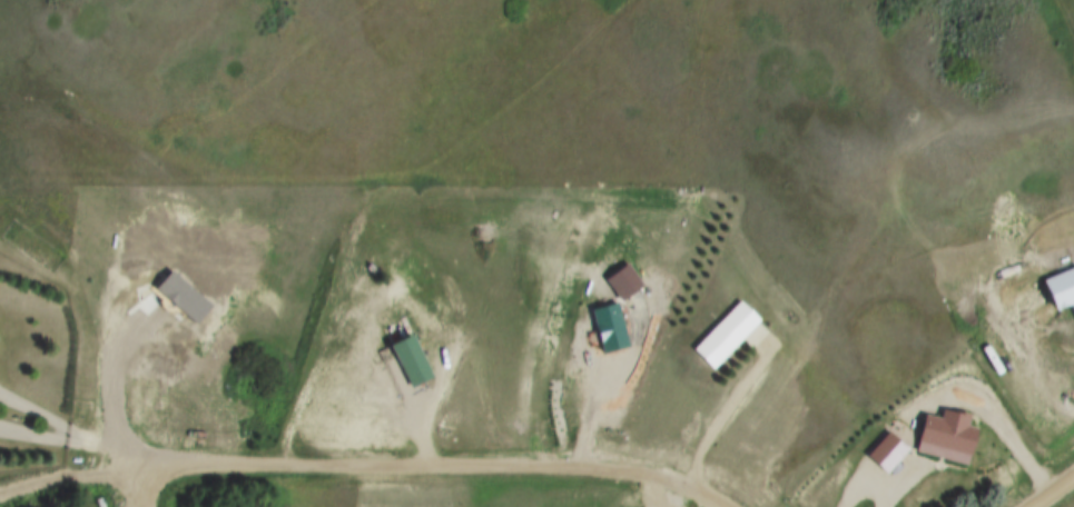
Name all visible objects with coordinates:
road: (397, 189)
building: (621, 280)
building: (1063, 290)
building: (607, 328)
building: (727, 334)
building: (411, 360)
road: (603, 384)
road: (725, 407)
road: (33, 411)
road: (999, 420)
road: (31, 434)
building: (953, 437)
road: (102, 449)
building: (891, 453)
road: (417, 468)
road: (866, 486)
road: (1060, 496)

